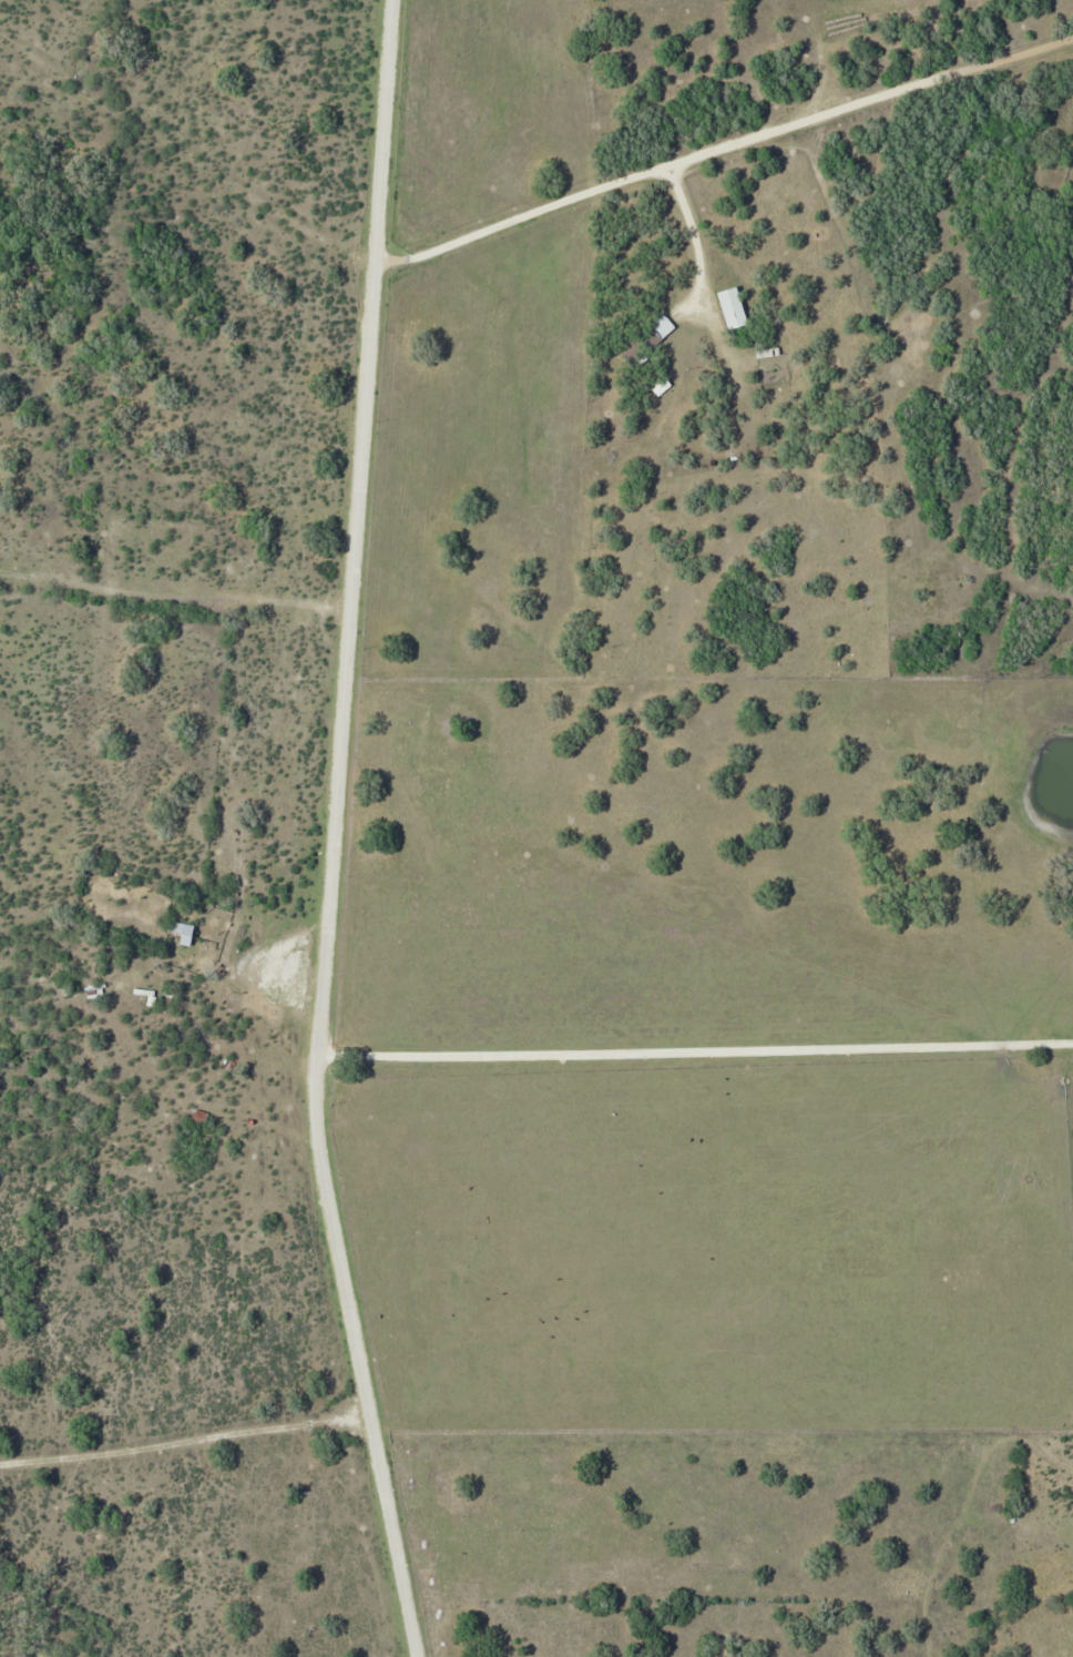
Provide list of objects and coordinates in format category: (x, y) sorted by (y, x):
road: (727, 150)
road: (699, 237)
building: (732, 309)
building: (662, 326)
building: (661, 387)
road: (338, 833)
building: (183, 932)
road: (696, 1050)

